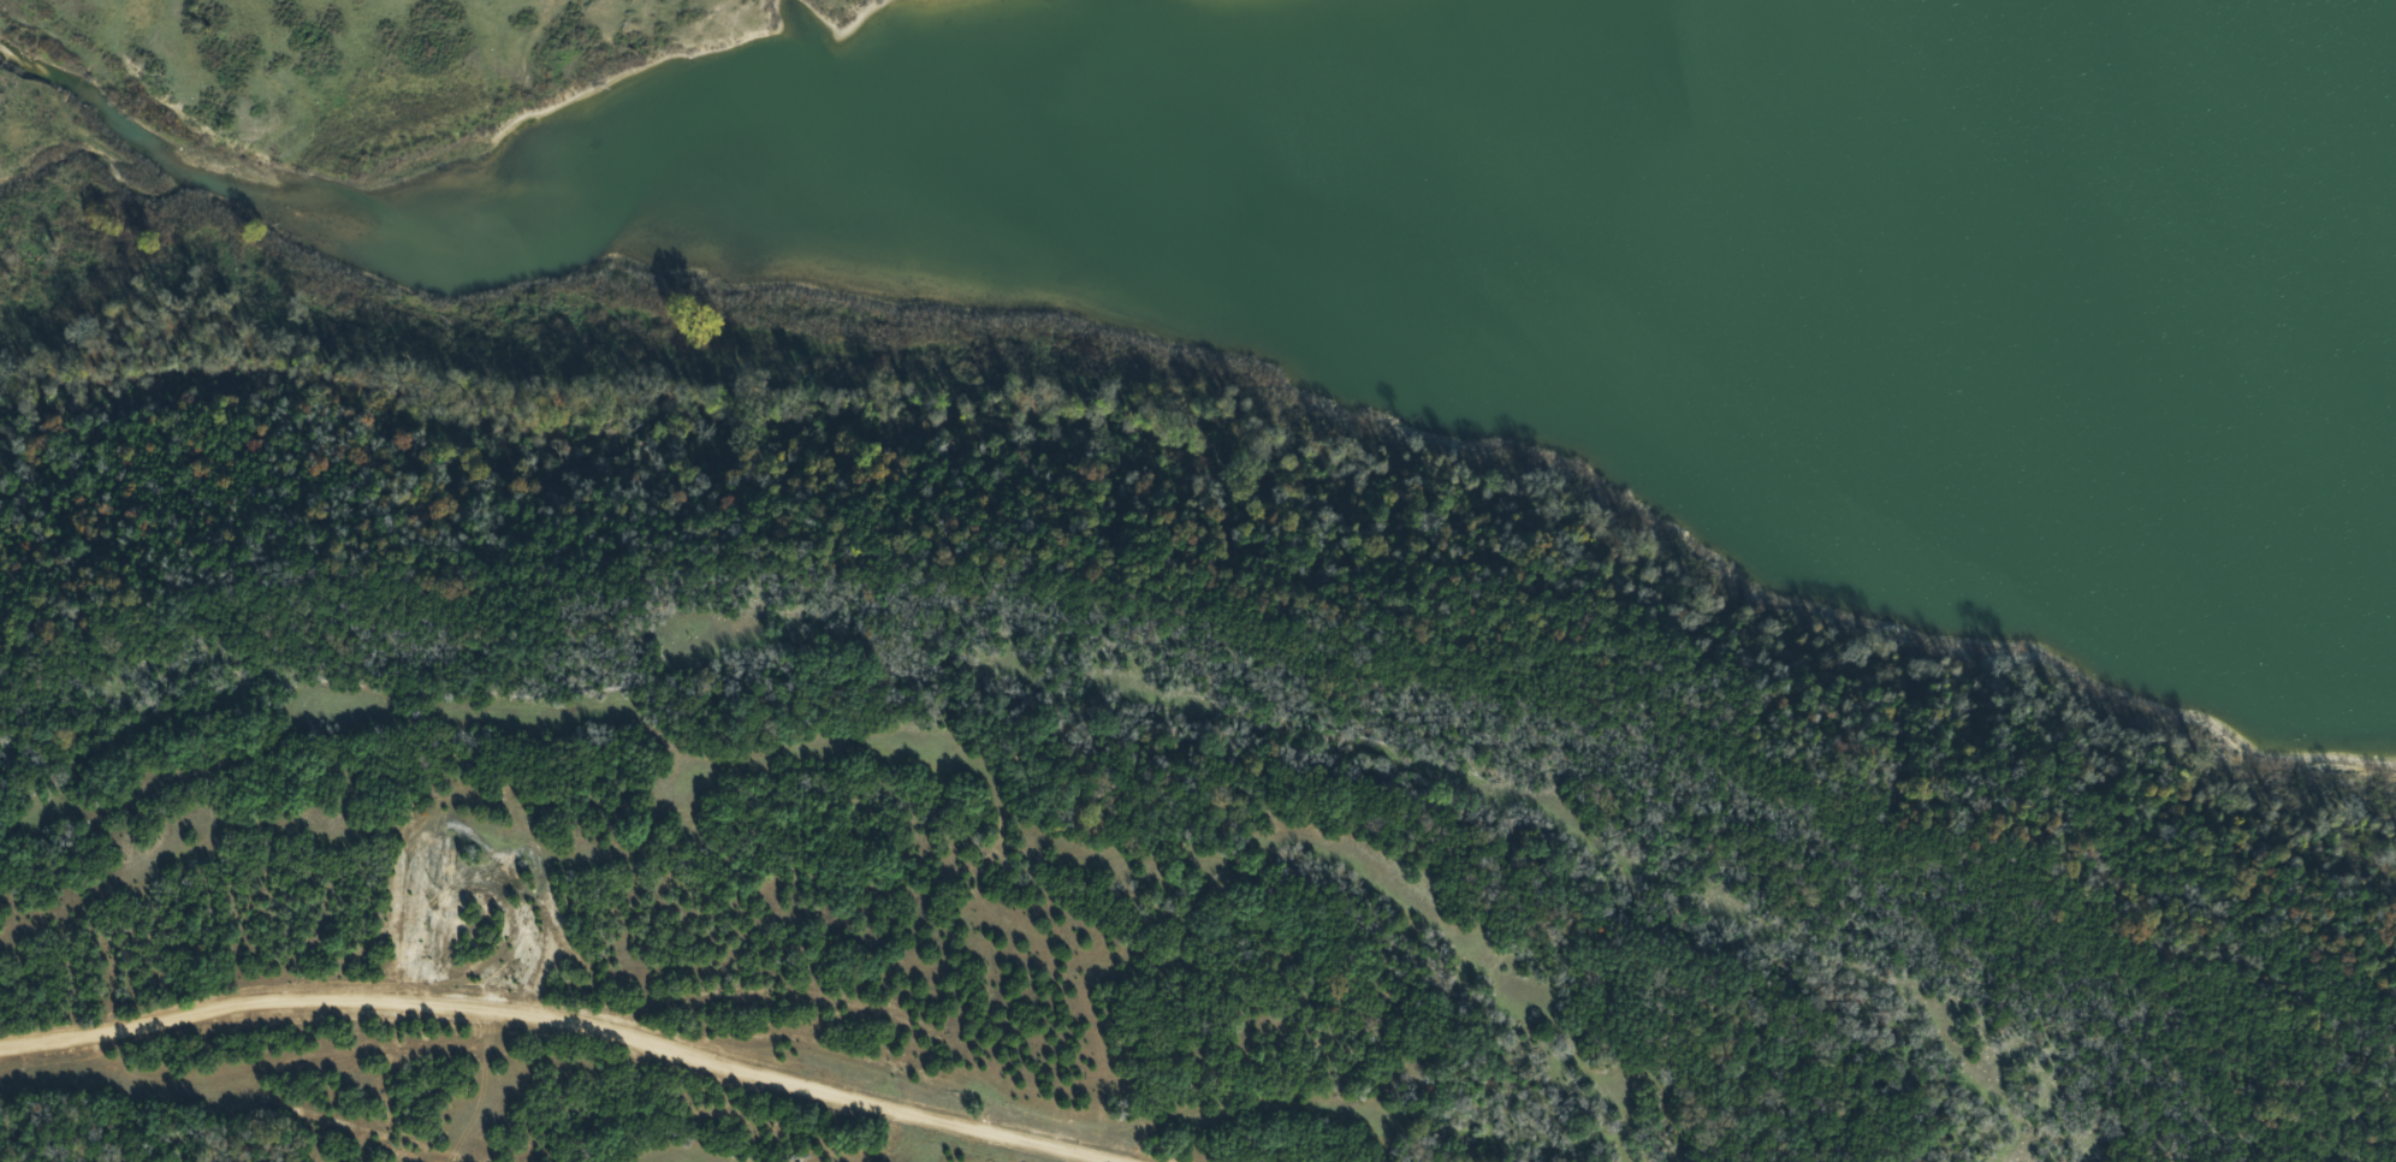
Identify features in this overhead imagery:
road: (565, 1024)

